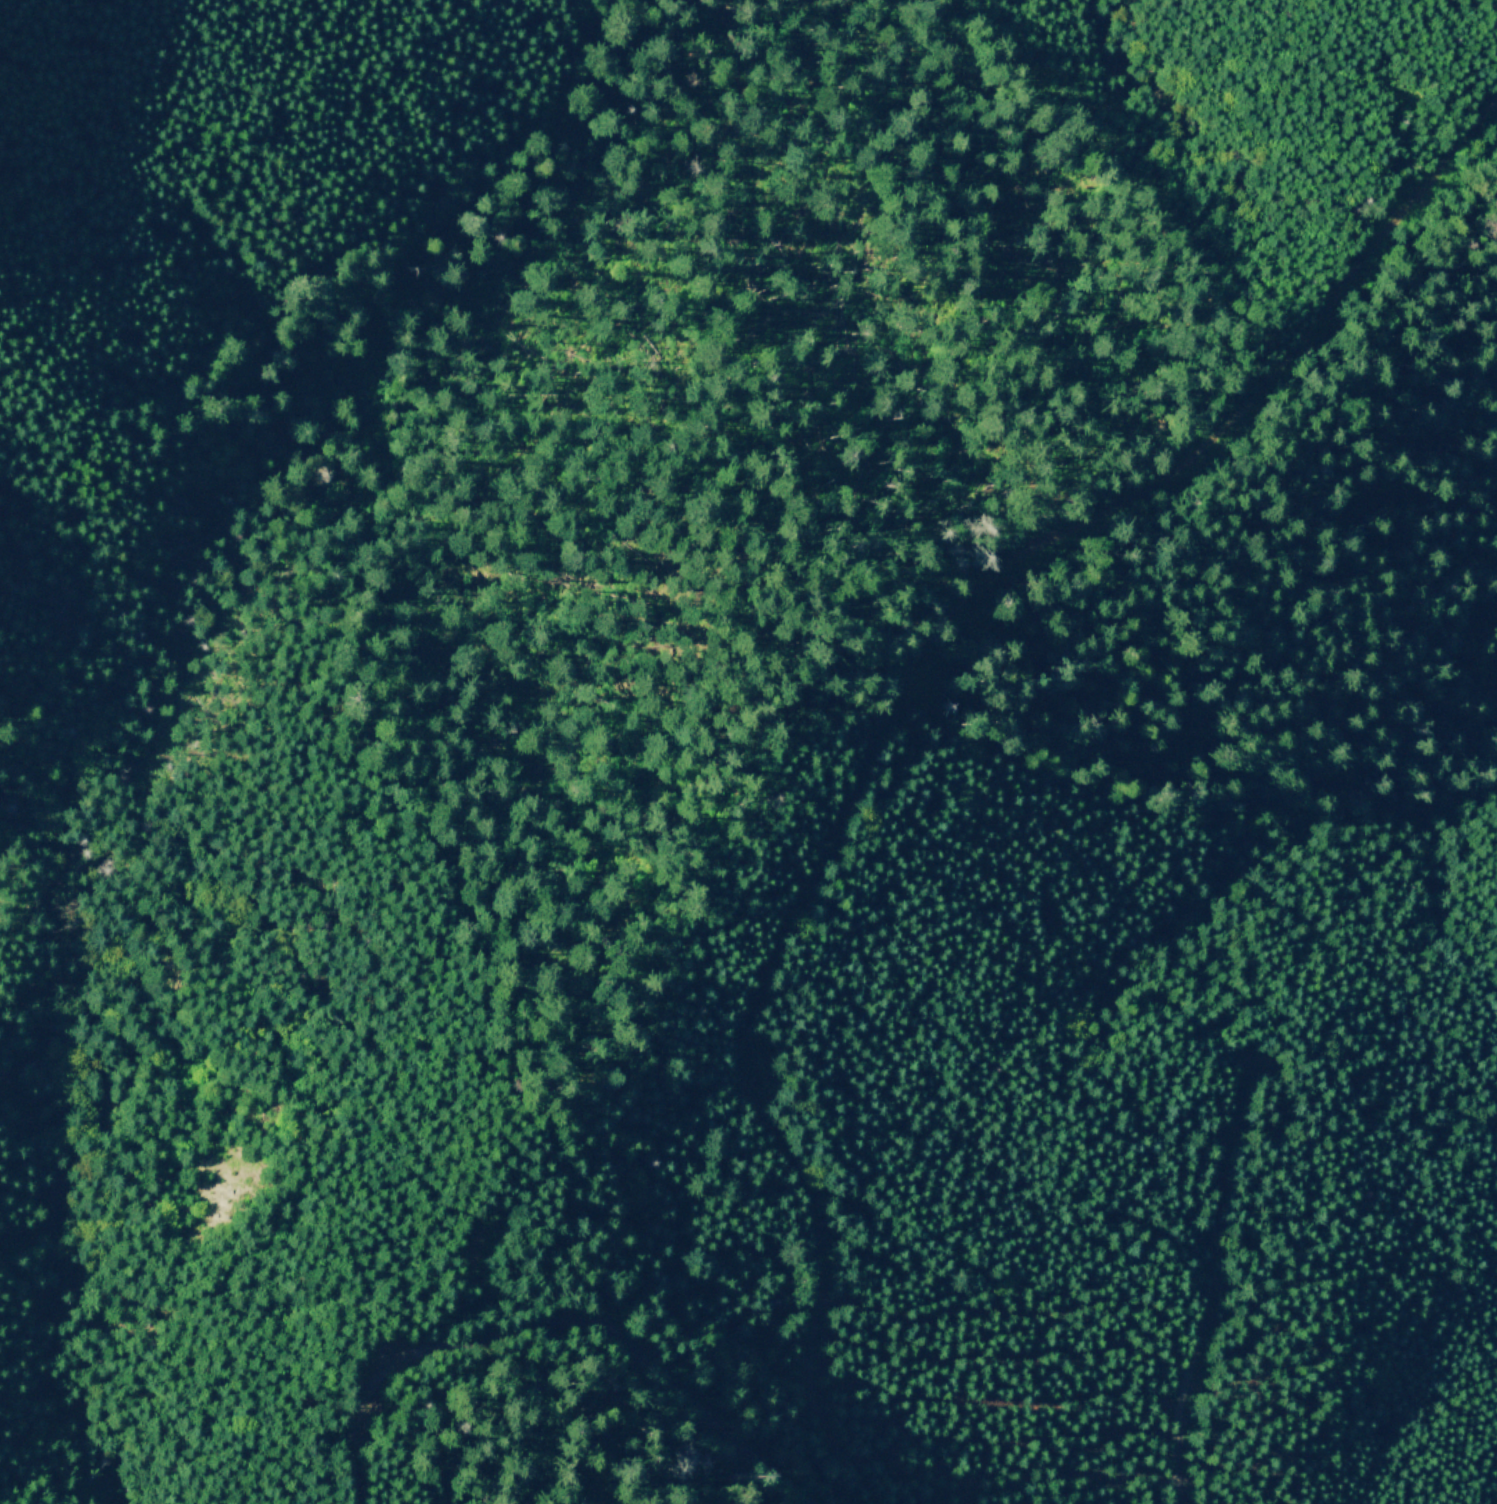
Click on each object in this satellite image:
road: (884, 717)
road: (1219, 1285)
road: (562, 1320)

